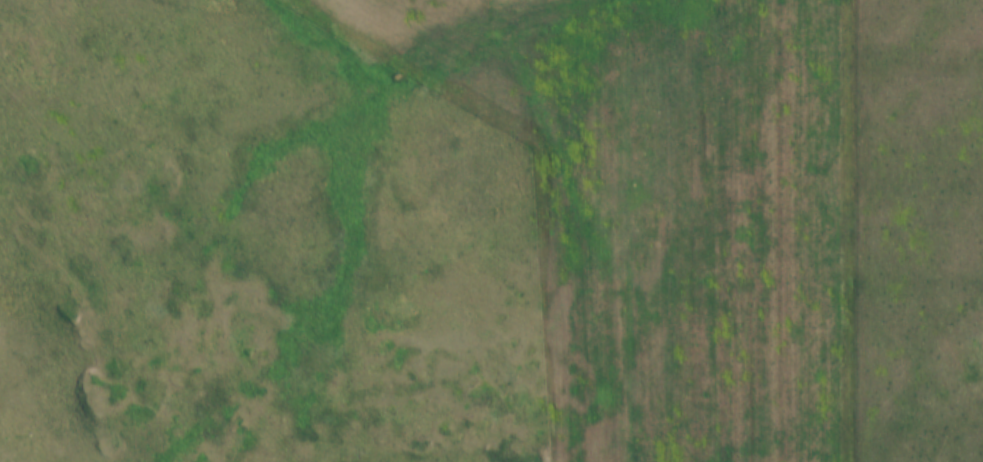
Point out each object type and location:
road: (845, 230)

